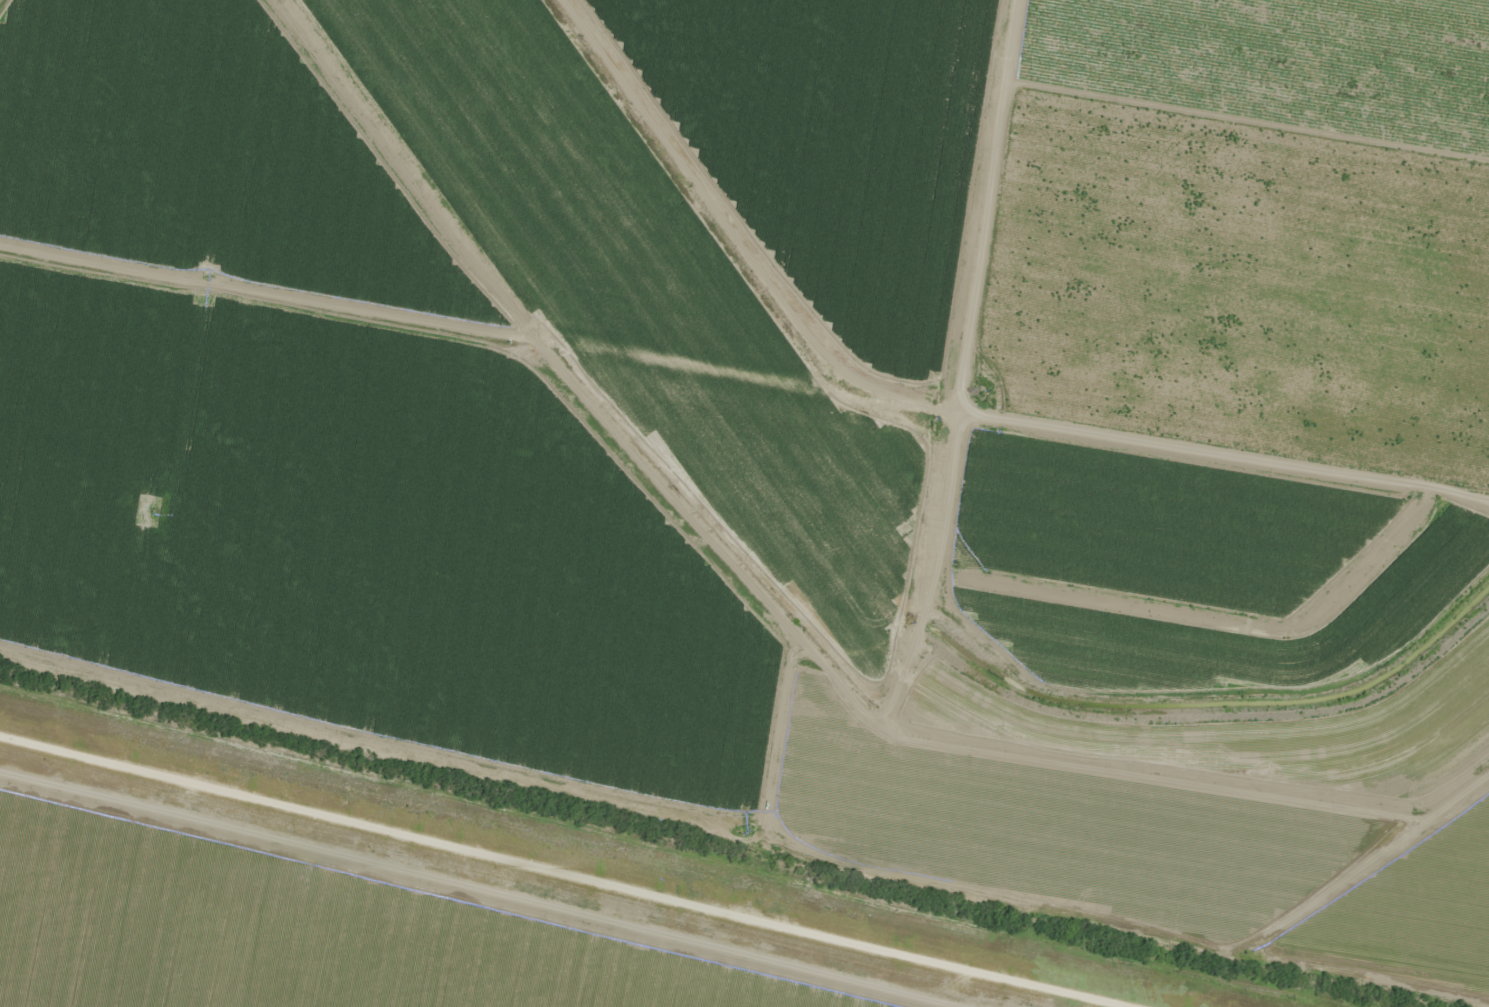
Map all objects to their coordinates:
road: (1005, 183)
road: (753, 365)
road: (594, 868)

